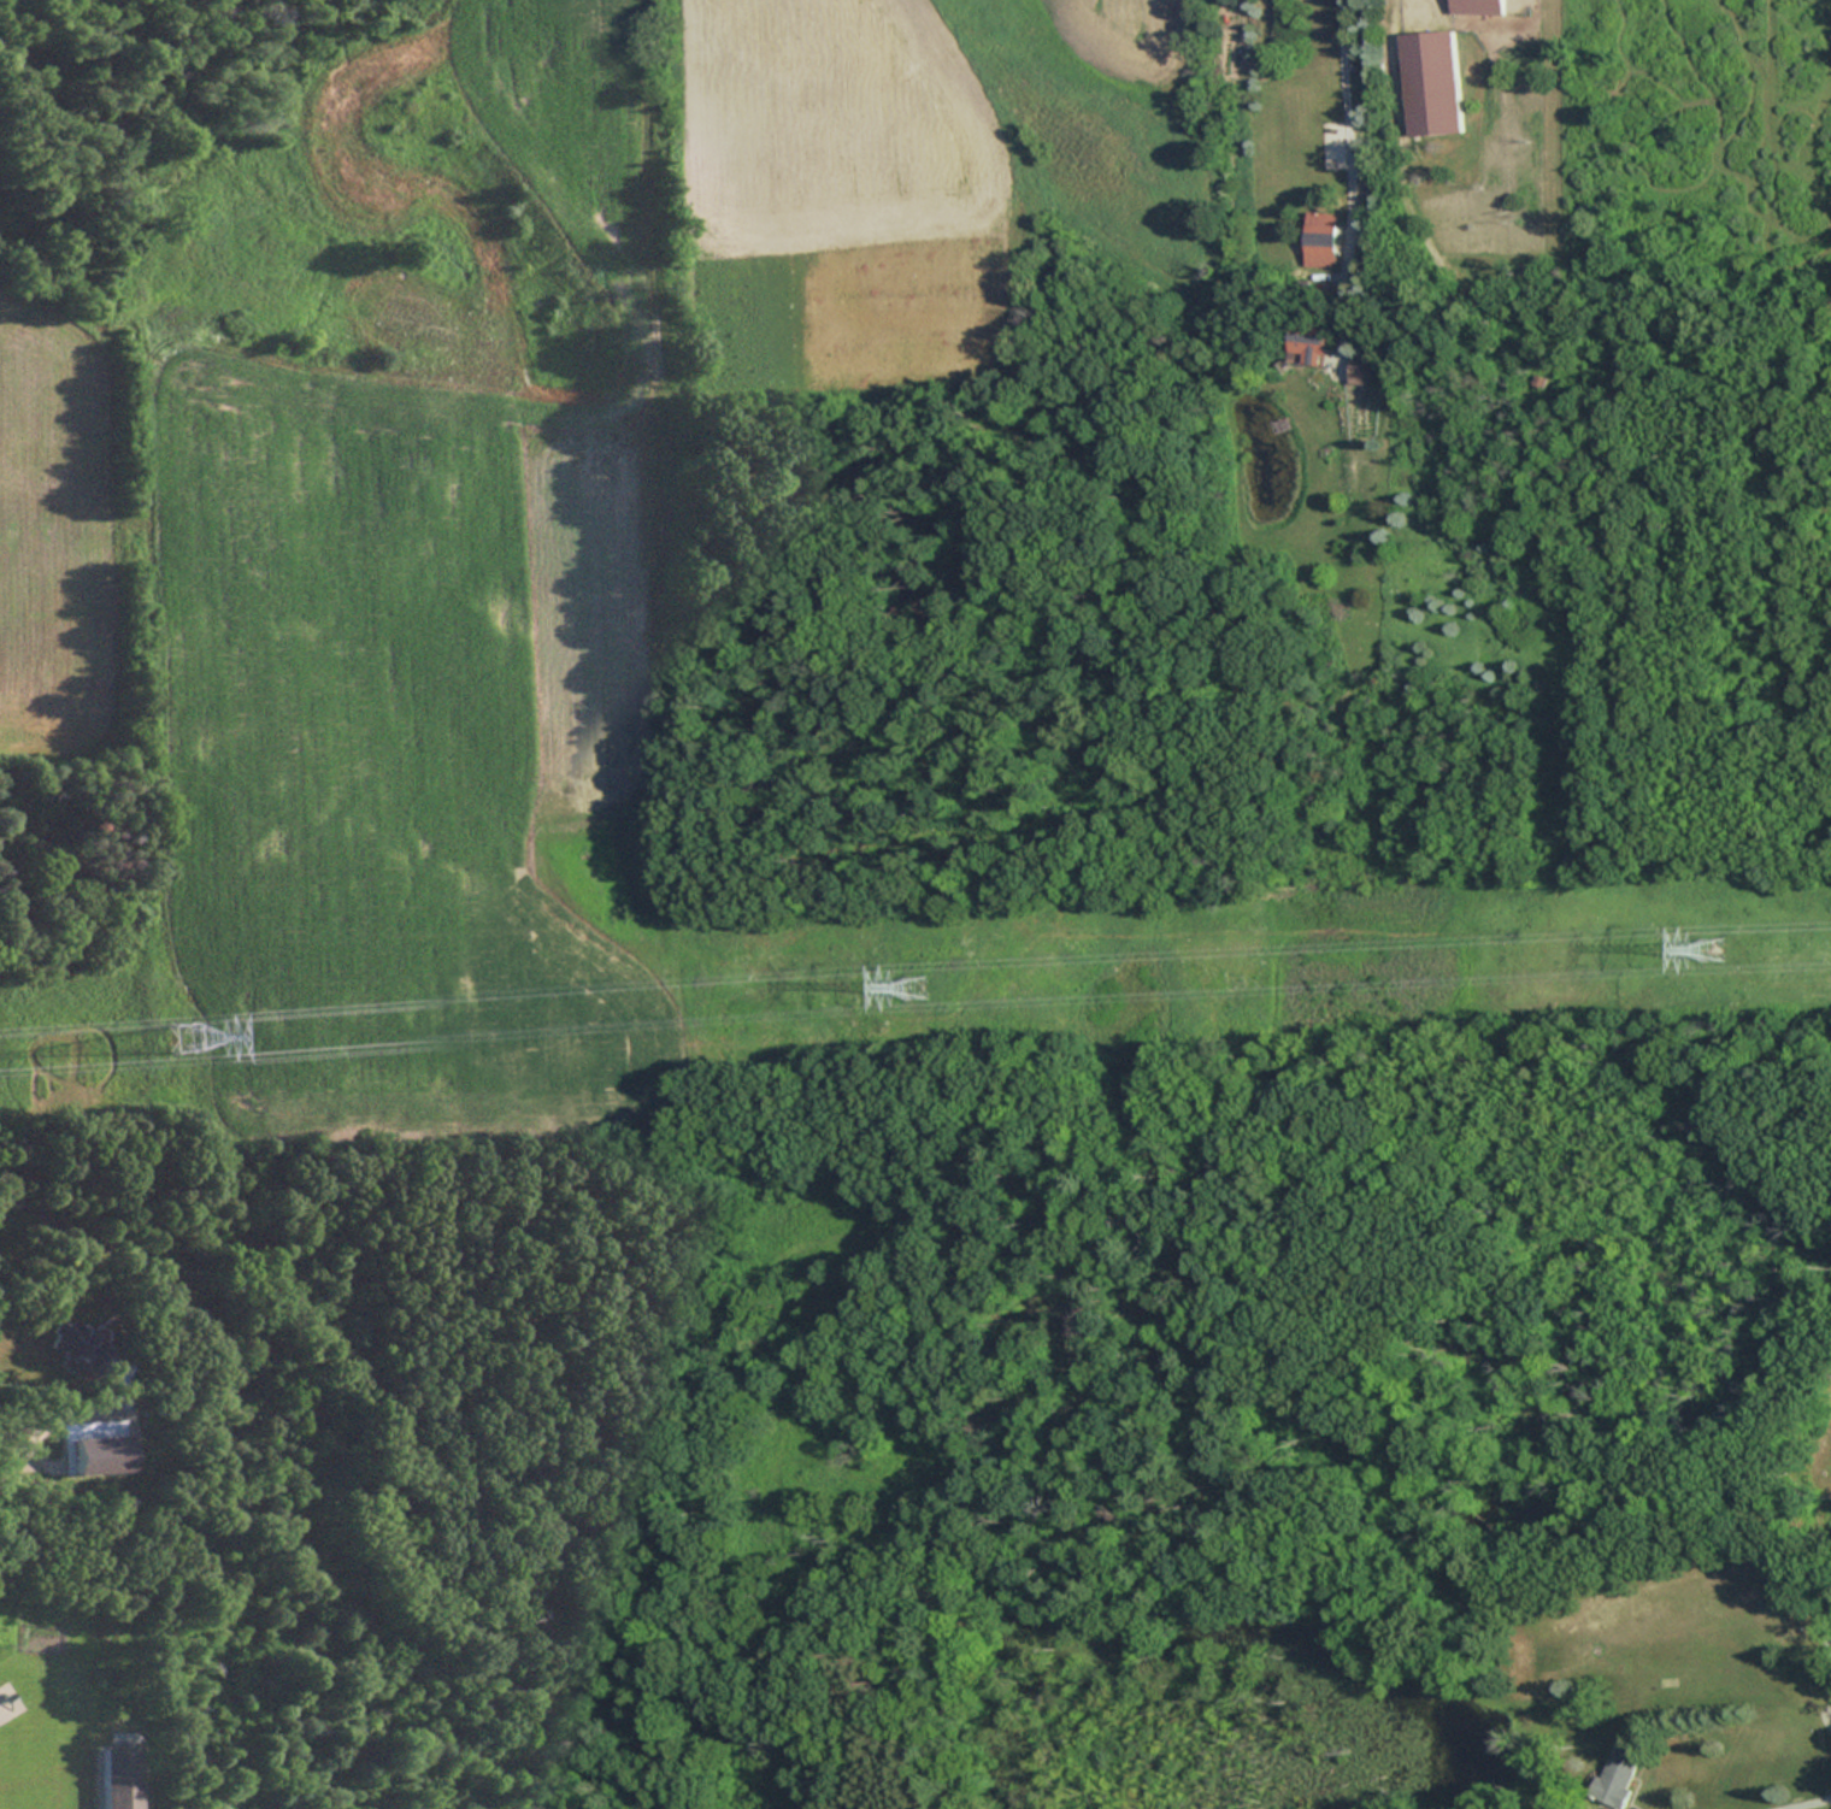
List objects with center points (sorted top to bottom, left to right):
road: (1346, 181)
building: (1325, 234)
building: (1317, 342)
building: (1366, 370)
power tower: (1717, 947)
power tower: (915, 989)
power tower: (183, 1036)
building: (76, 1345)
road: (42, 1422)
road: (1824, 1632)
building: (1613, 1776)
building: (122, 1779)
road: (1800, 1804)

